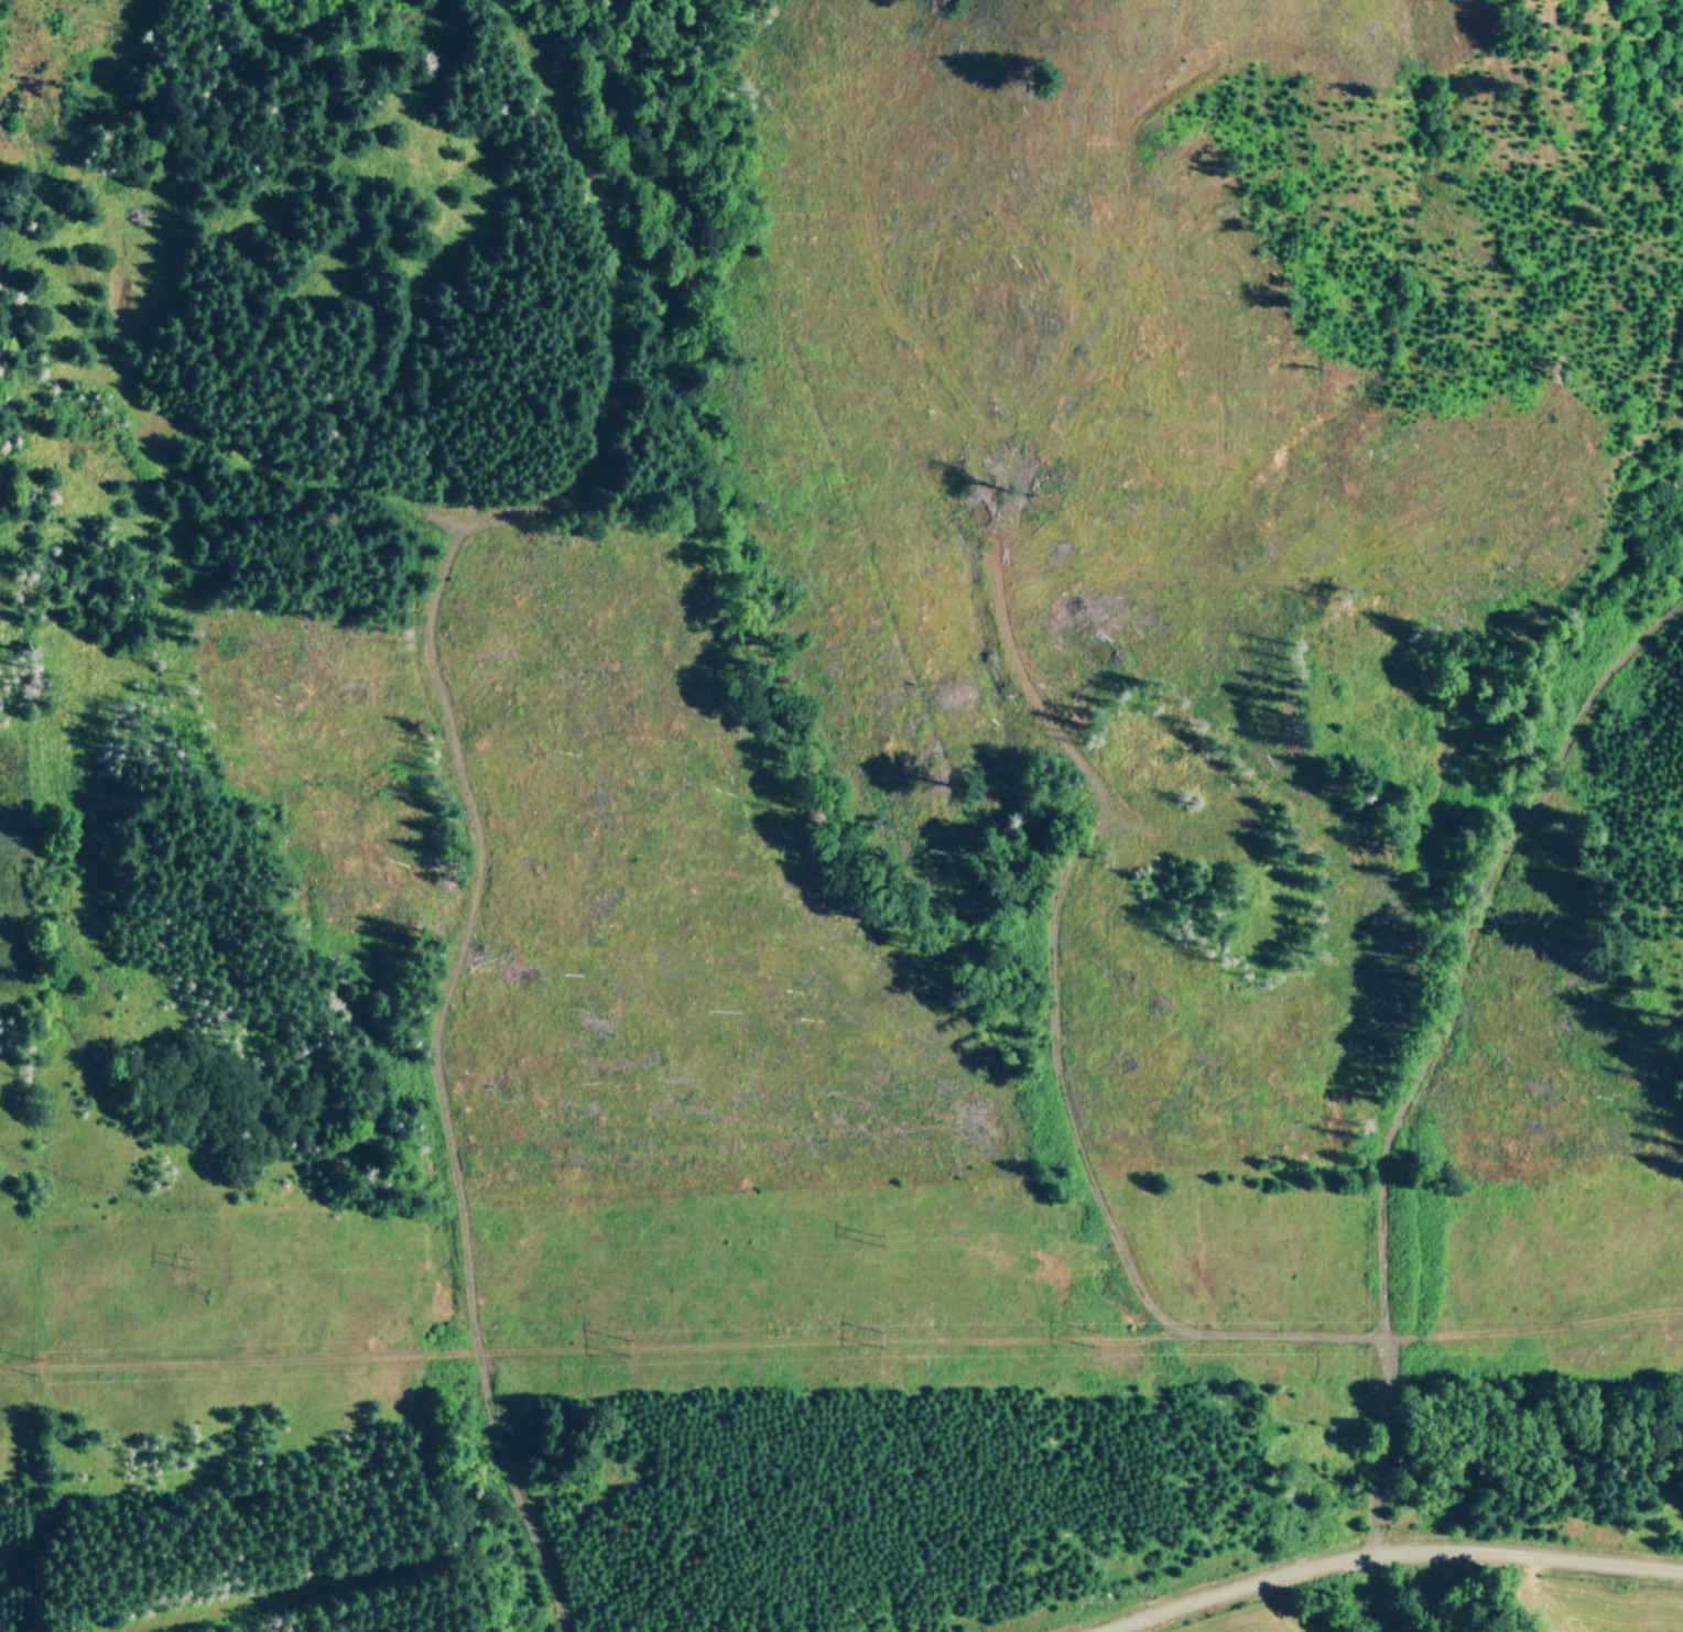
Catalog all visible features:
power tower: (1095, 1336)
power tower: (884, 1338)
power tower: (627, 1345)
power tower: (33, 1372)
road: (1377, 1549)

